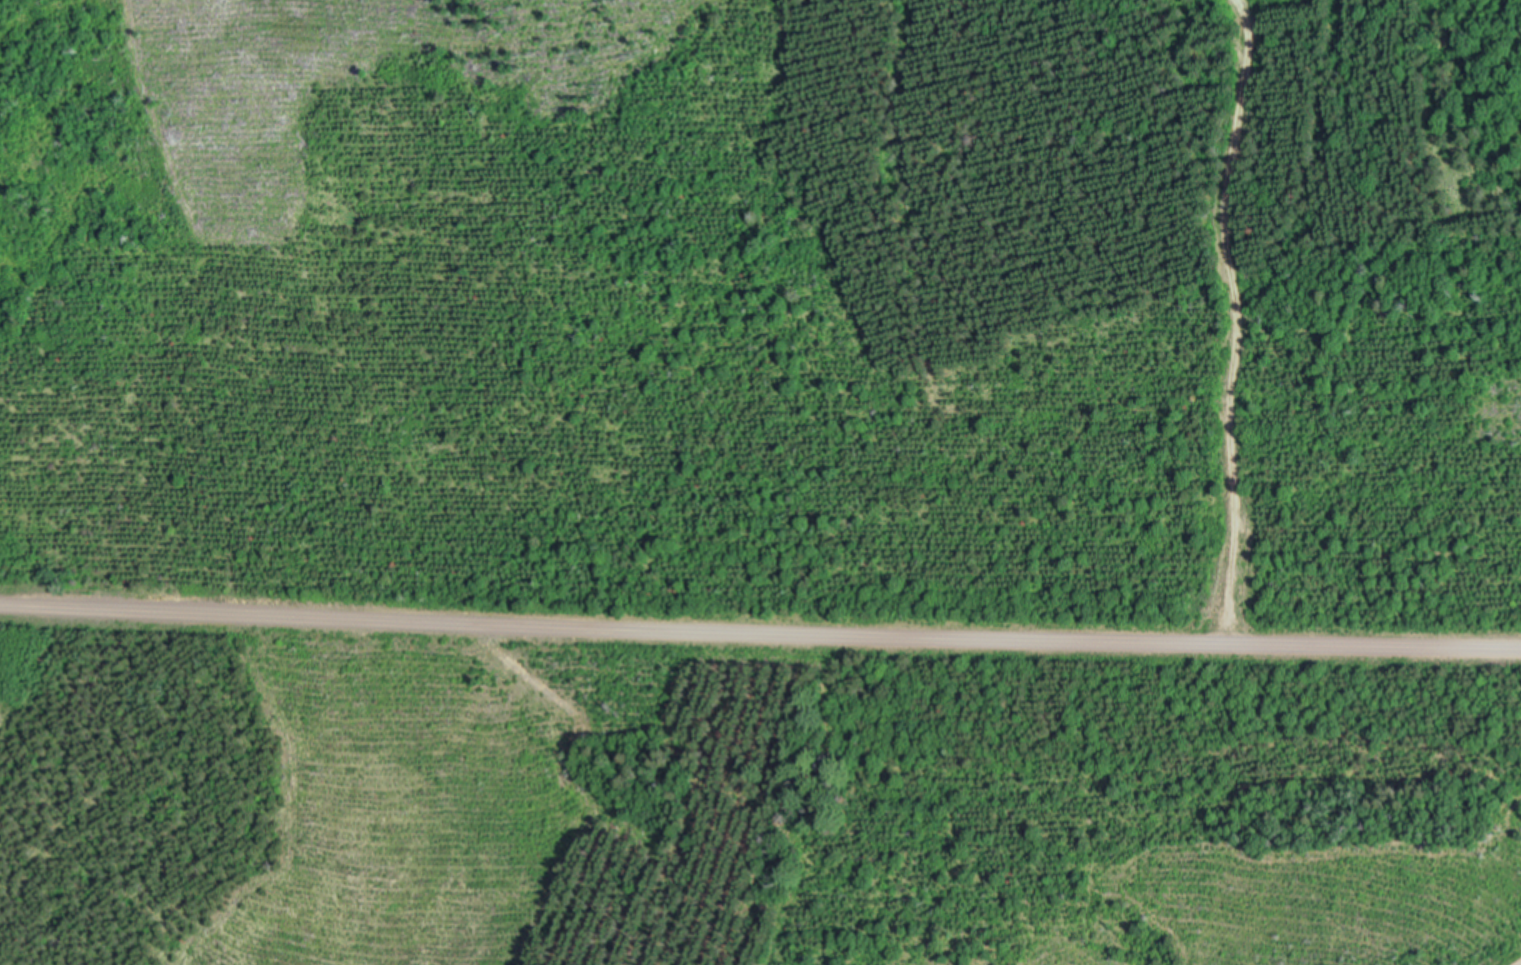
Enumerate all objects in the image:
road: (760, 637)

